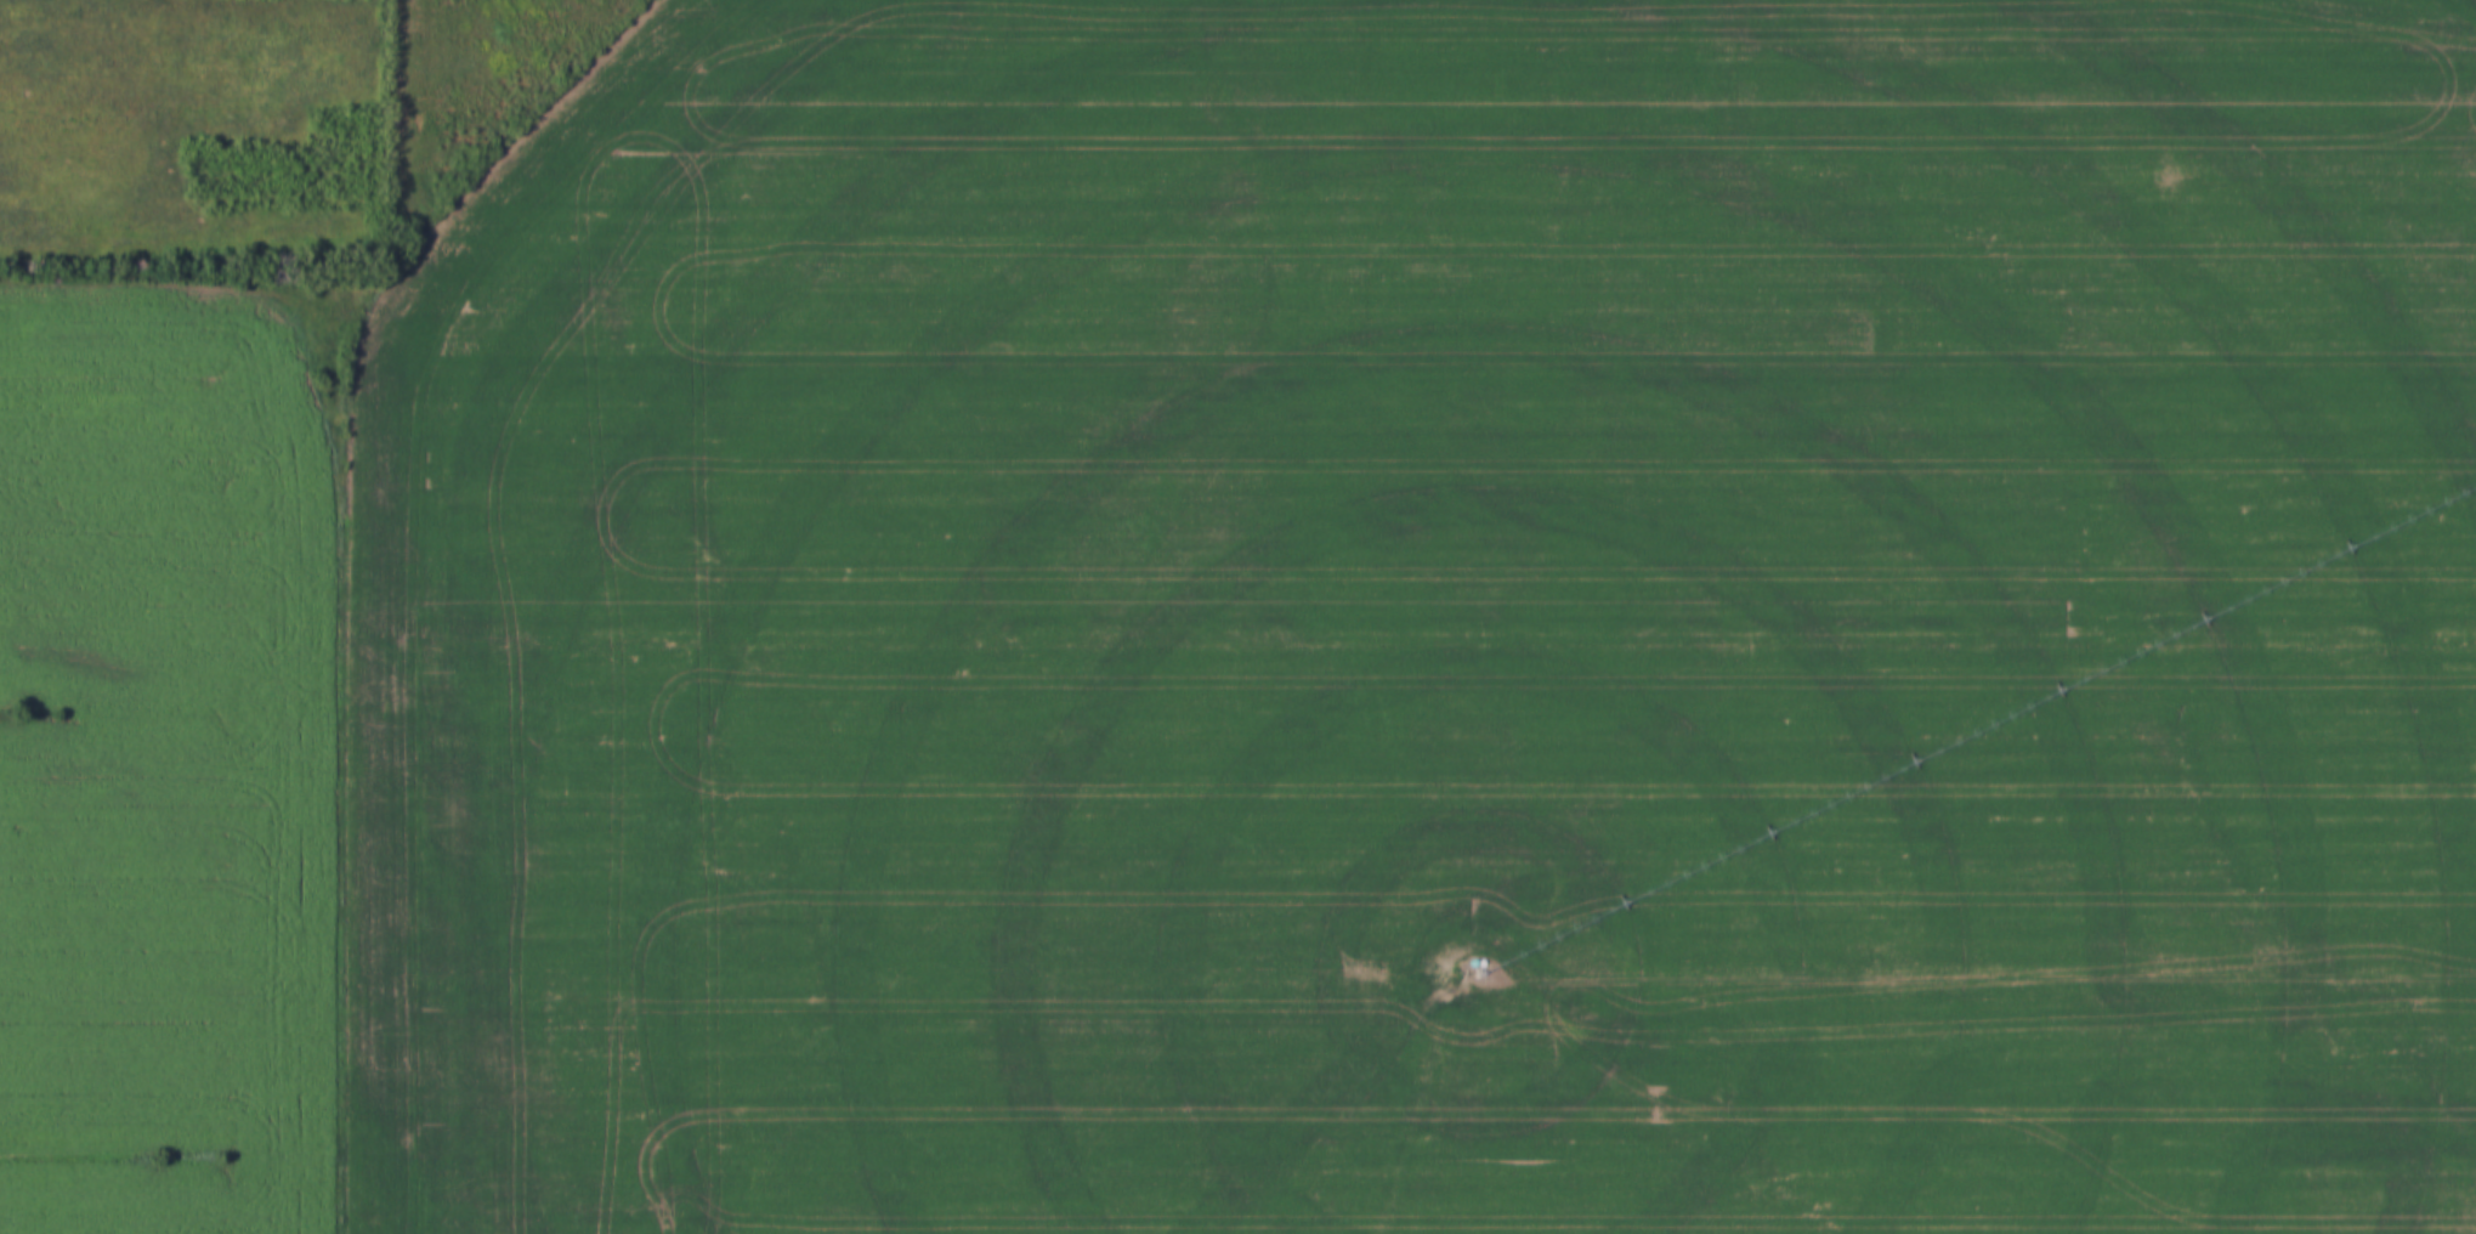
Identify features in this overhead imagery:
crop: (1429, 626)

